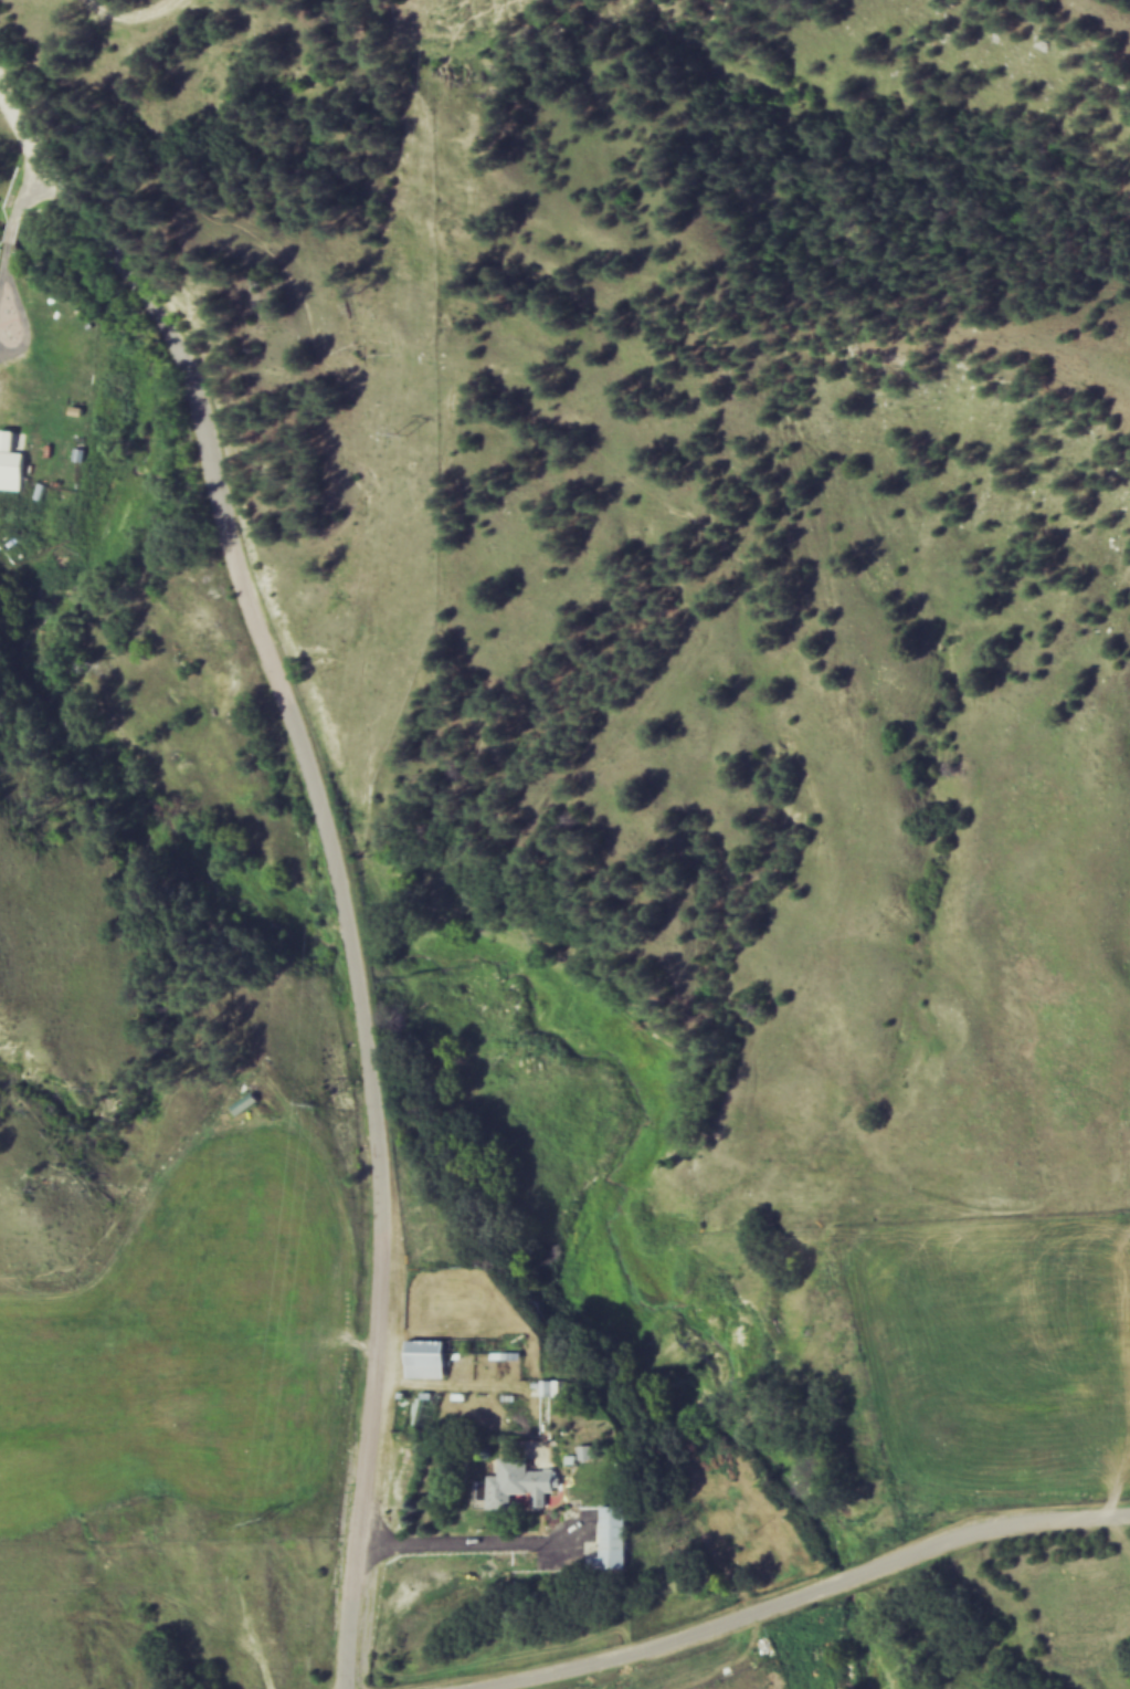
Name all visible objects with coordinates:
road: (7, 225)
road: (0, 343)
road: (181, 382)
power tower: (406, 432)
building: (13, 469)
building: (249, 1102)
power tower: (320, 1103)
road: (379, 1187)
building: (431, 1357)
building: (555, 1386)
building: (590, 1451)
building: (522, 1481)
power tower: (264, 1521)
building: (616, 1538)
road: (472, 1549)
road: (803, 1596)

